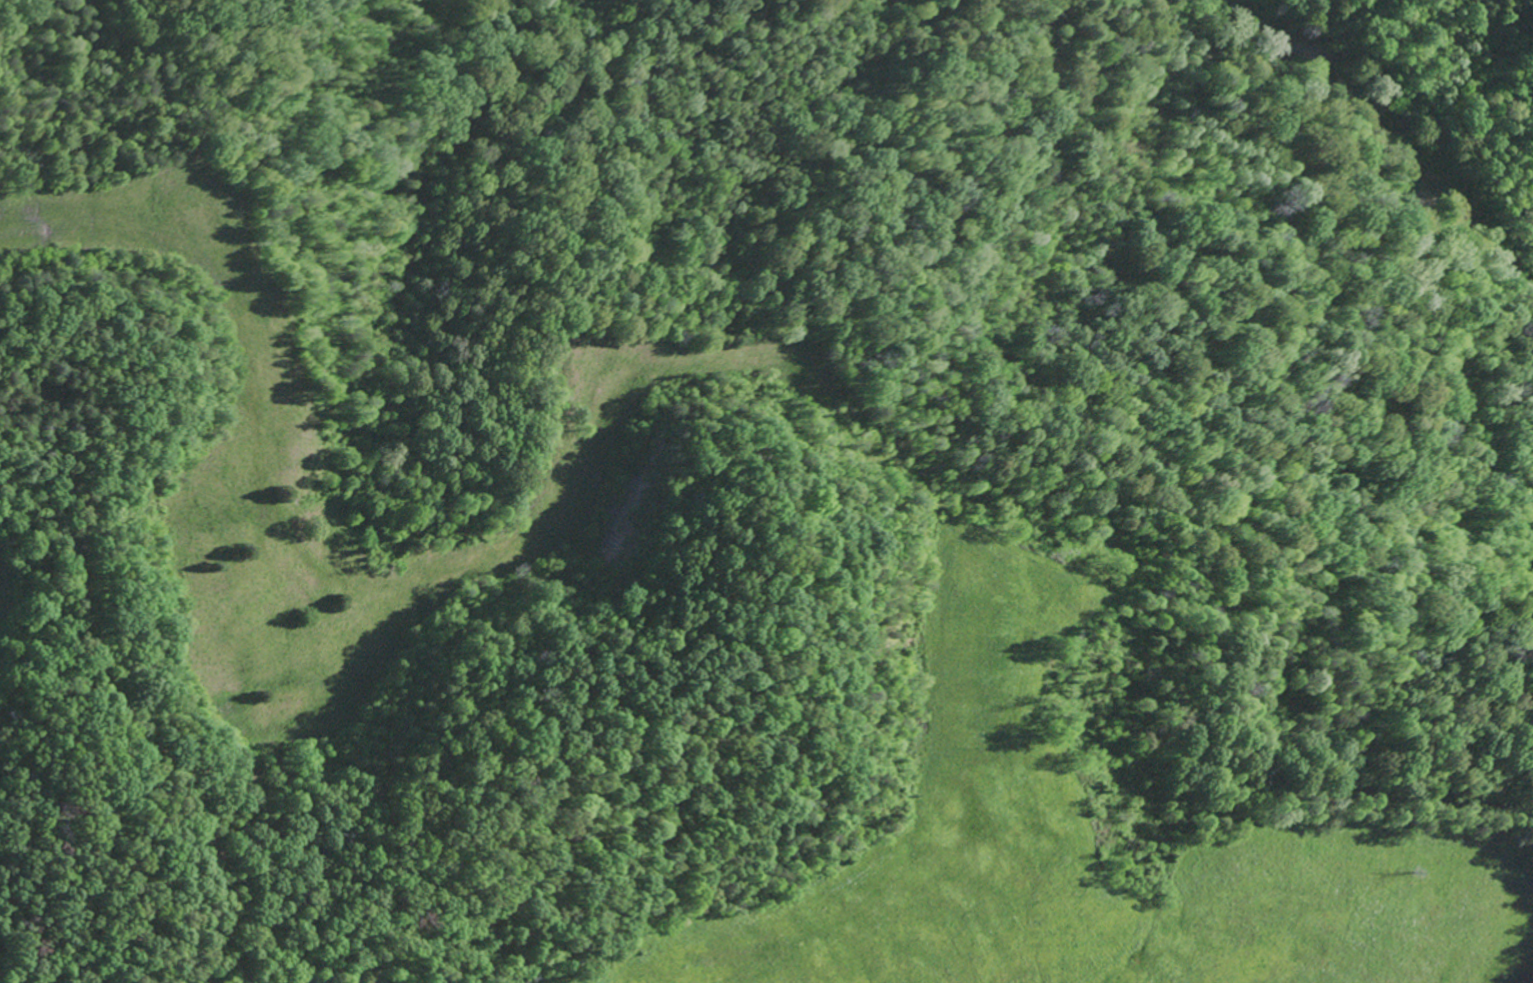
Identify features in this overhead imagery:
road: (1526, 4)

